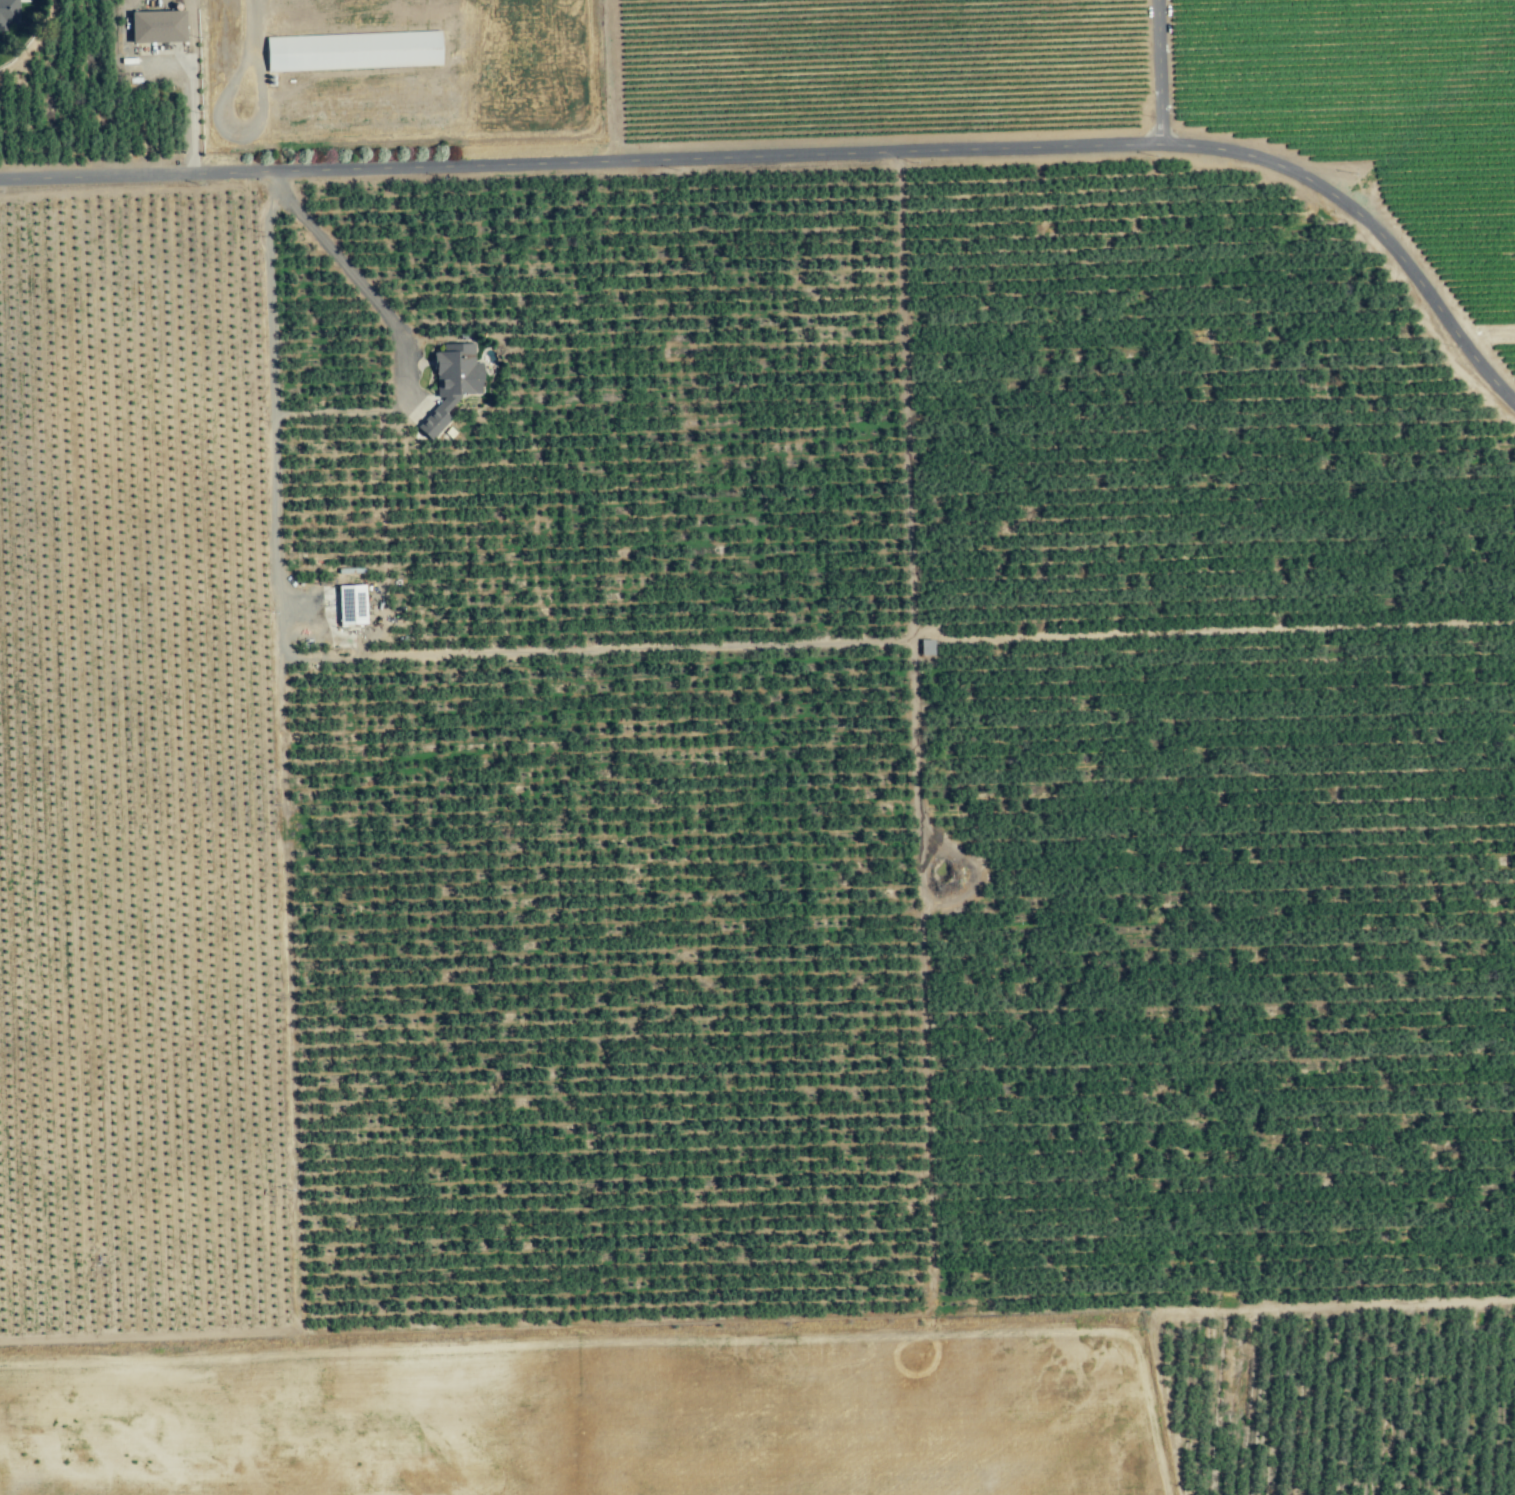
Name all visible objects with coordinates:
building: (8, 13)
road: (247, 24)
building: (160, 26)
building: (354, 50)
road: (1153, 72)
road: (234, 131)
road: (811, 153)
road: (351, 274)
building: (455, 383)
road: (272, 394)
building: (356, 605)
crop: (771, 771)

